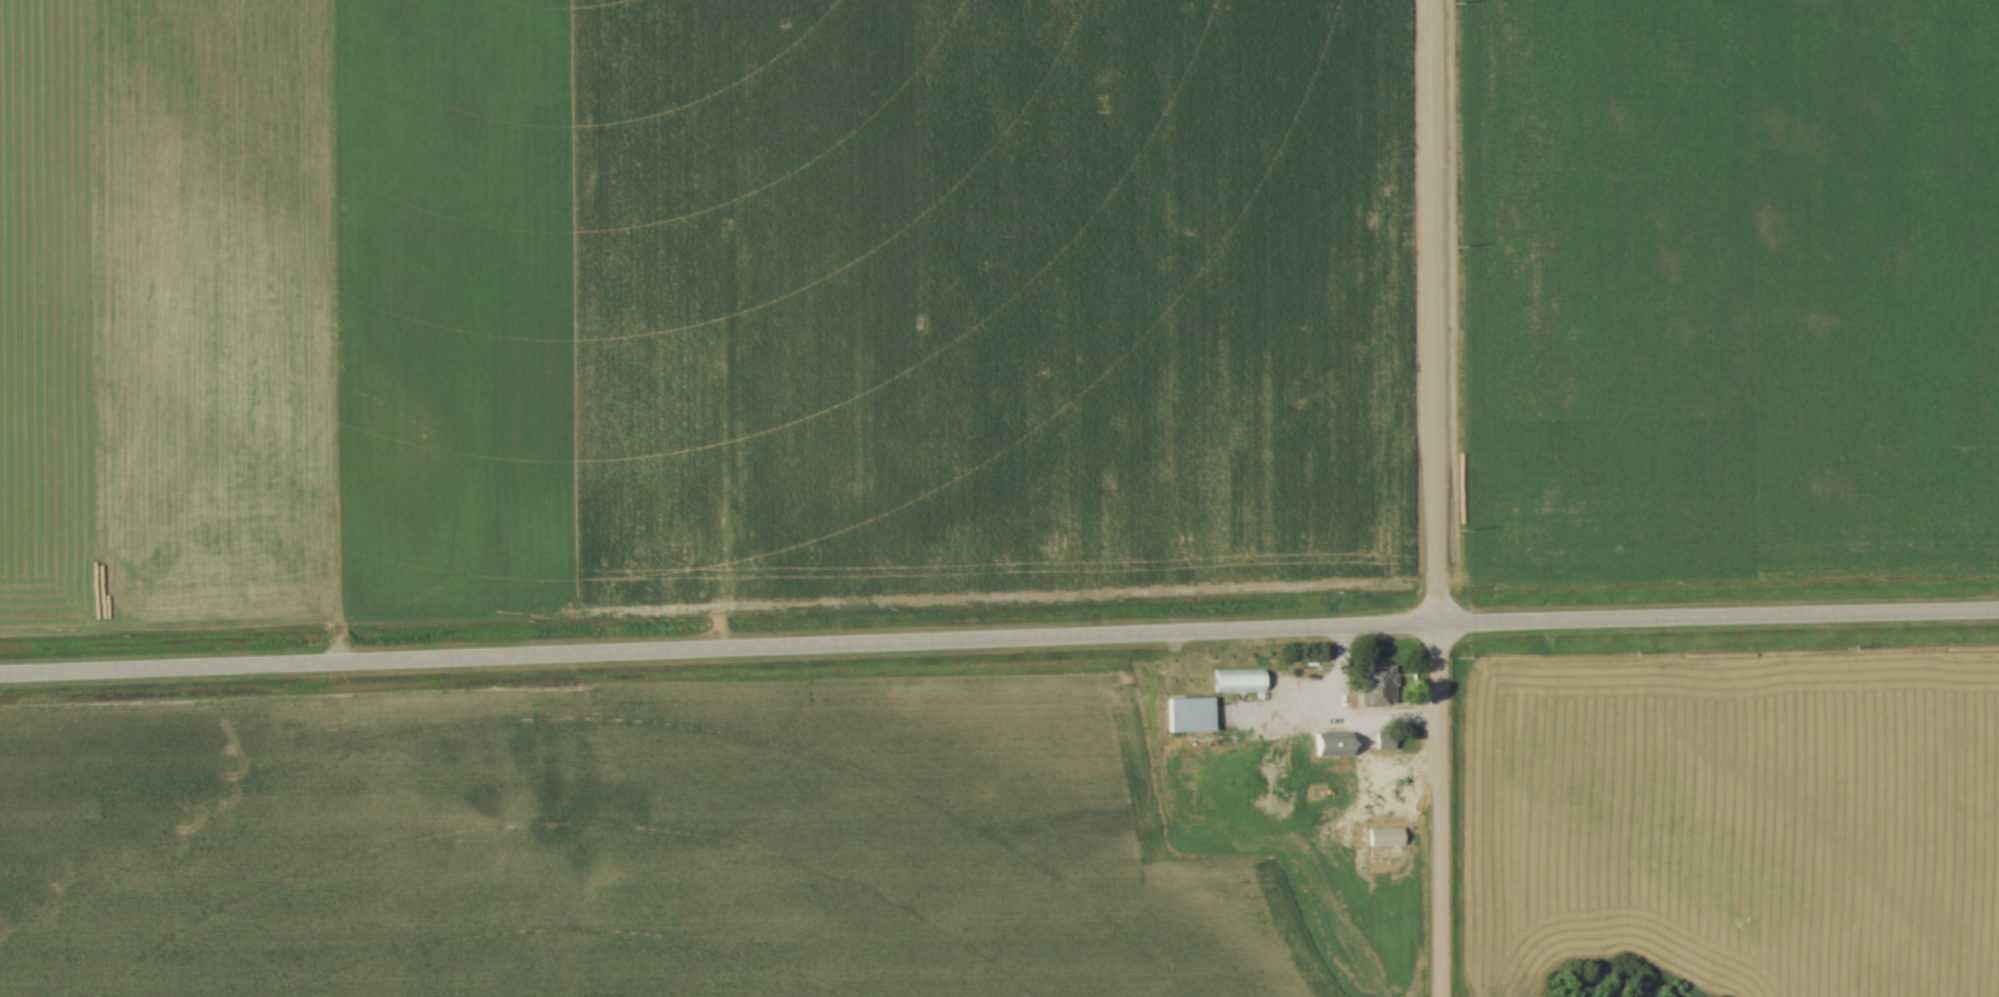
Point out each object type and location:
crop: (1728, 290)
crop: (694, 304)
road: (1435, 498)
road: (999, 640)
building: (1238, 686)
building: (1375, 688)
building: (1188, 718)
road: (1330, 721)
building: (1381, 743)
building: (1329, 747)
crop: (1737, 816)
building: (1383, 839)
crop: (625, 850)

